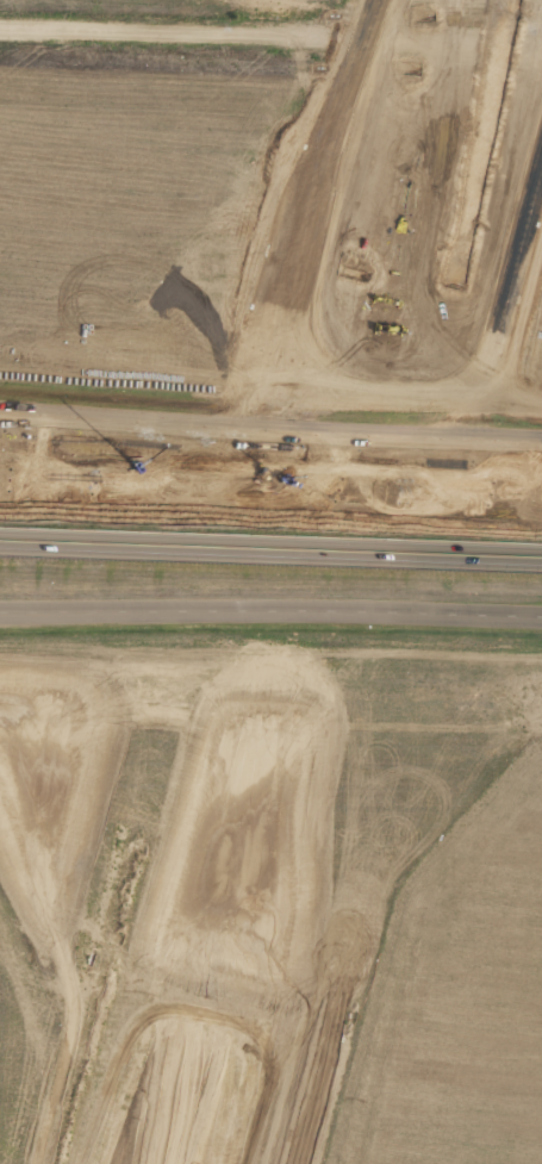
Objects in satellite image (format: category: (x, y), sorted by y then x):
road: (270, 421)
road: (270, 494)
road: (270, 547)
road: (270, 610)

